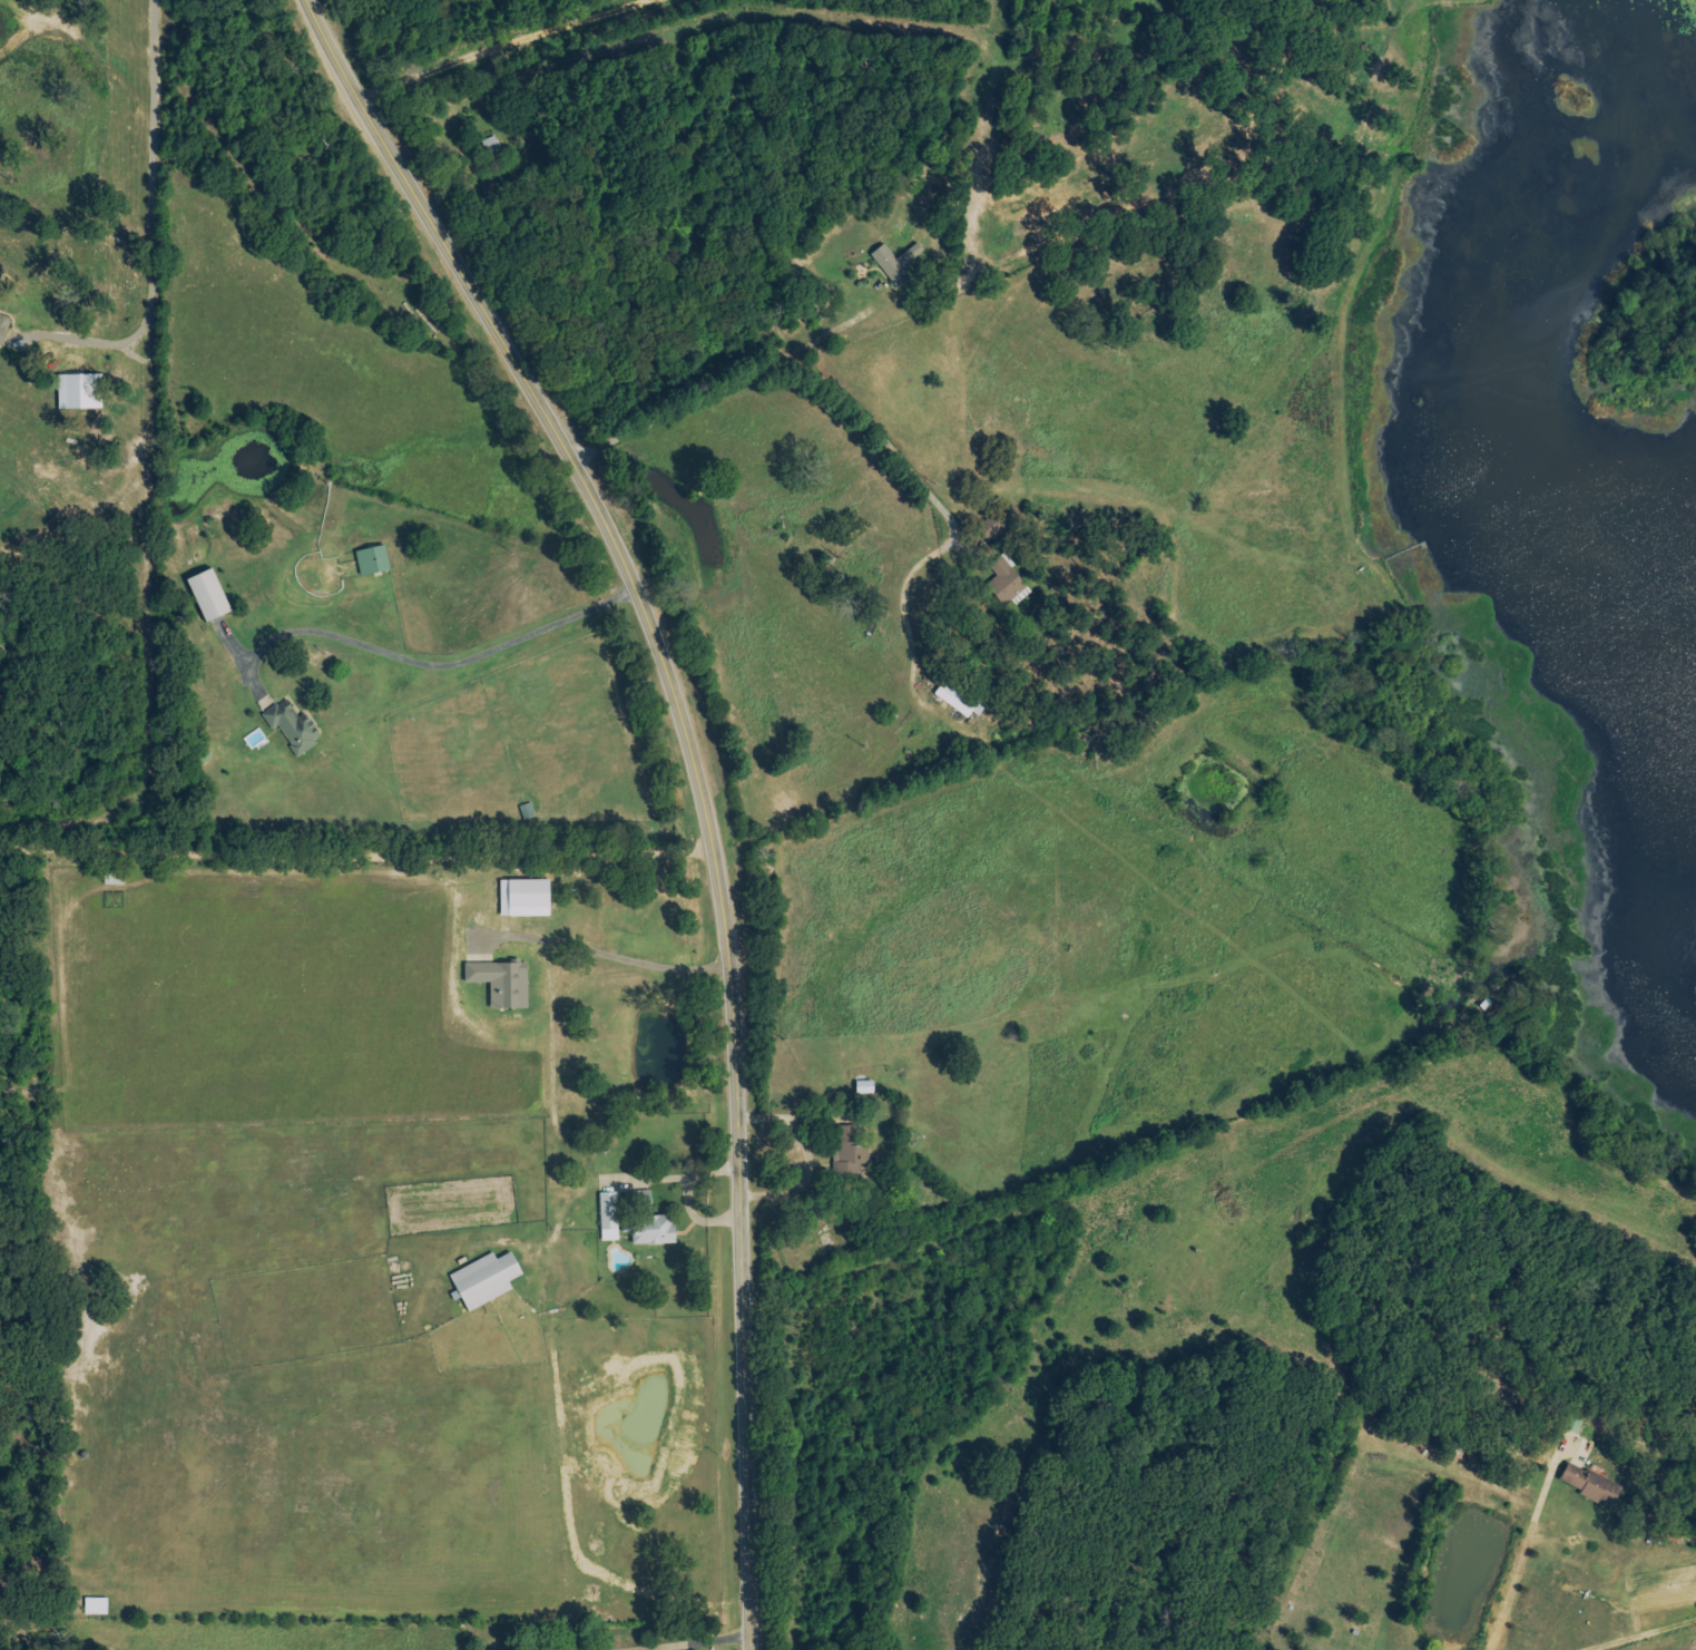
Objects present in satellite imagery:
road: (150, 198)
building: (895, 263)
building: (3, 325)
building: (79, 391)
building: (372, 560)
building: (1004, 580)
building: (208, 596)
road: (438, 664)
building: (293, 726)
road: (708, 778)
building: (525, 898)
road: (624, 958)
building: (501, 984)
building: (853, 1145)
road: (807, 1159)
road: (687, 1174)
building: (641, 1195)
building: (608, 1215)
road: (700, 1217)
building: (654, 1229)
building: (484, 1279)
building: (1575, 1424)
building: (1590, 1484)
building: (96, 1607)
road: (1631, 1629)
road: (718, 1646)

